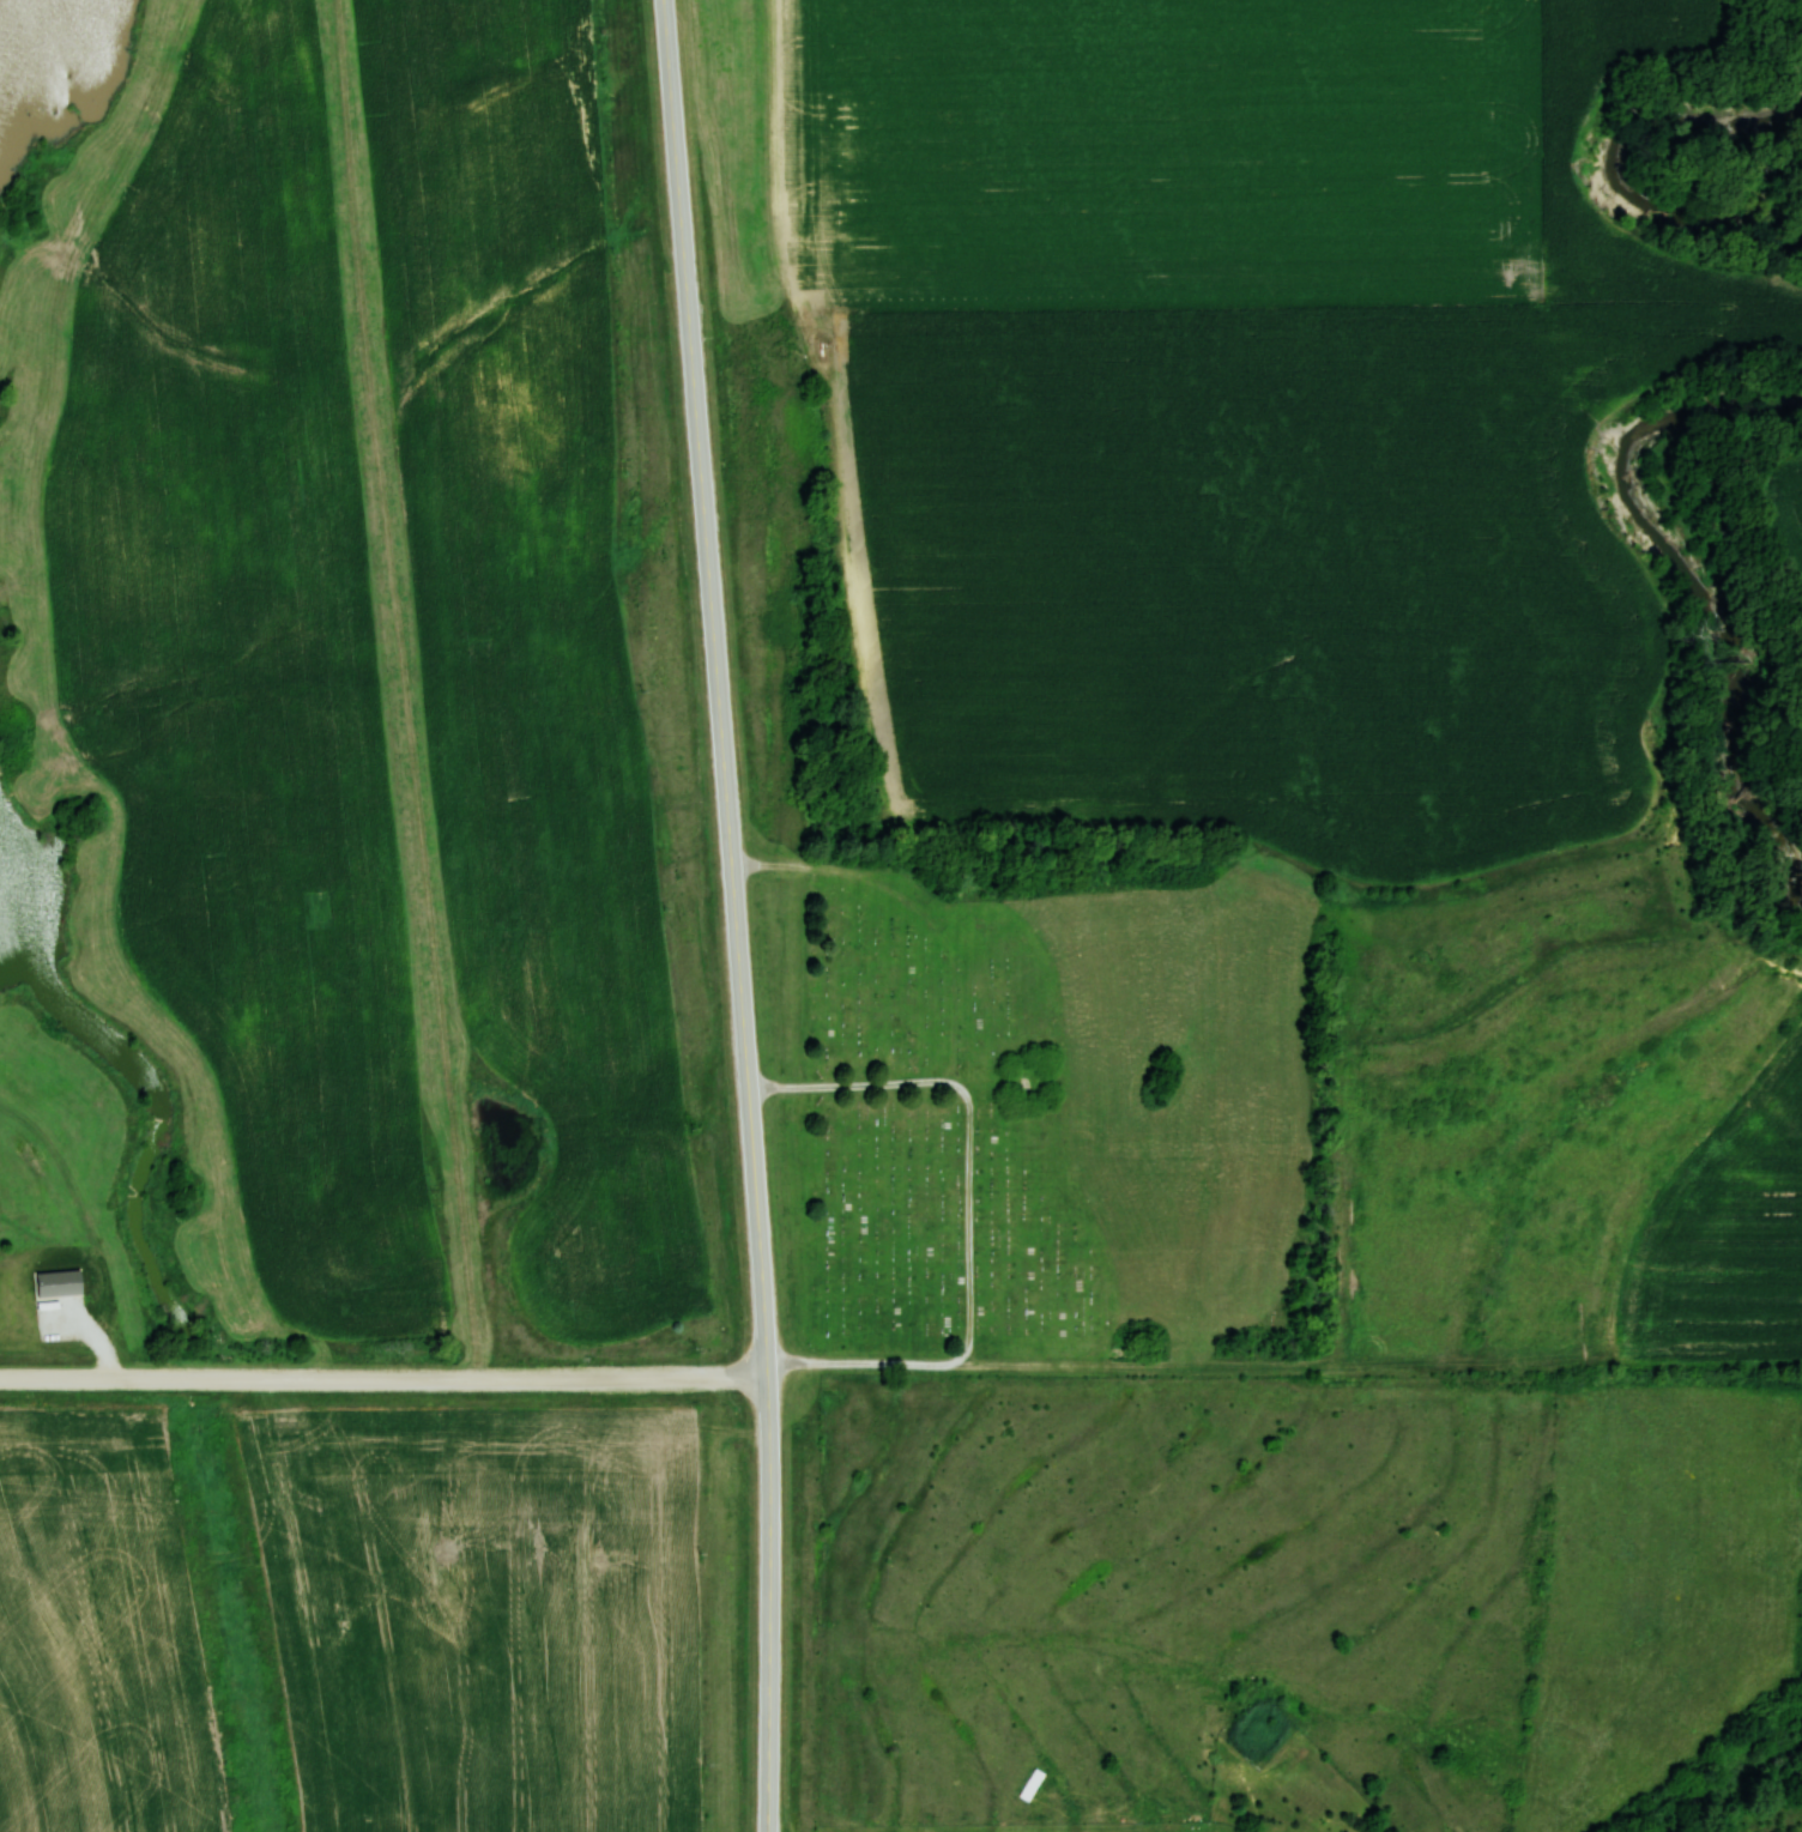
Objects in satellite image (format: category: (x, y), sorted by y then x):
road: (714, 682)
park: (1040, 1105)
road: (969, 1211)
building: (59, 1282)
road: (383, 1378)
road: (768, 1597)

